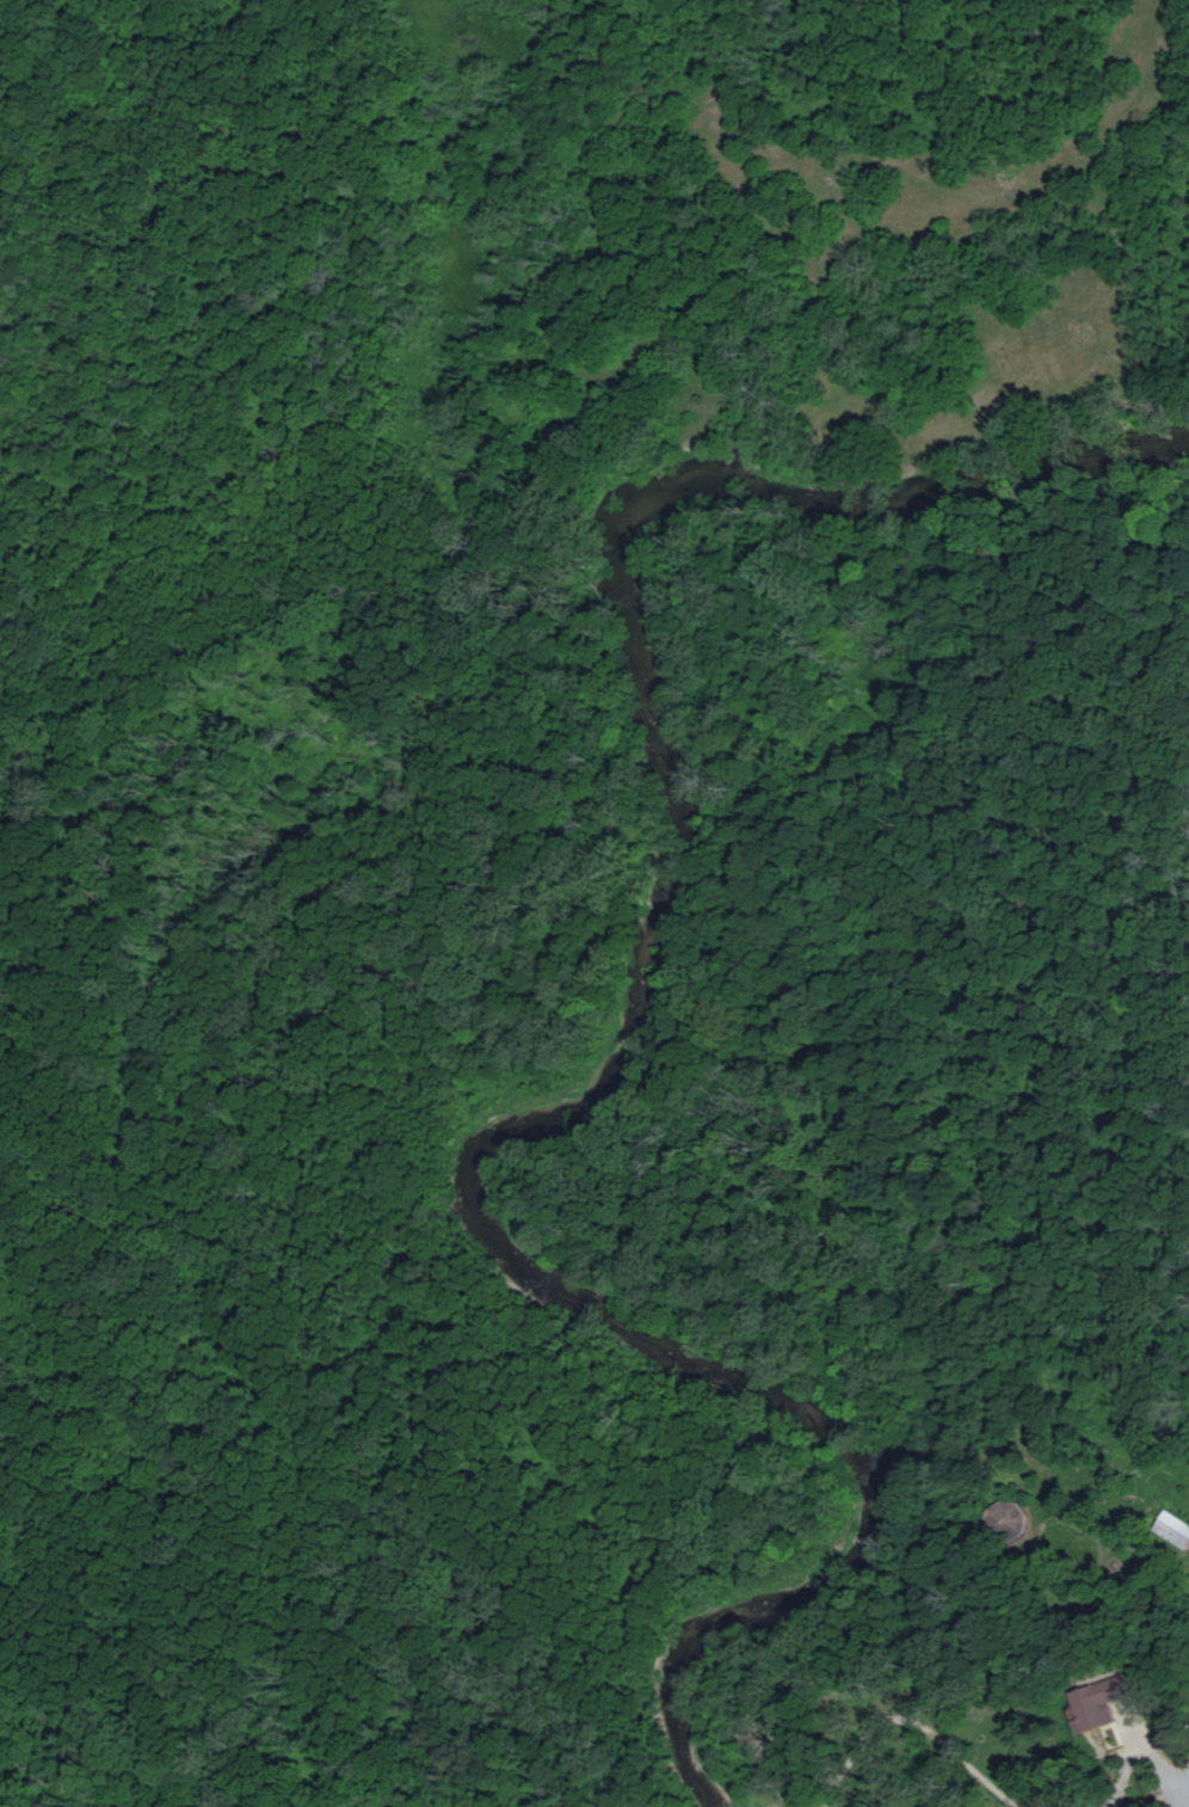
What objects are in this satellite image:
building: (1093, 1714)

